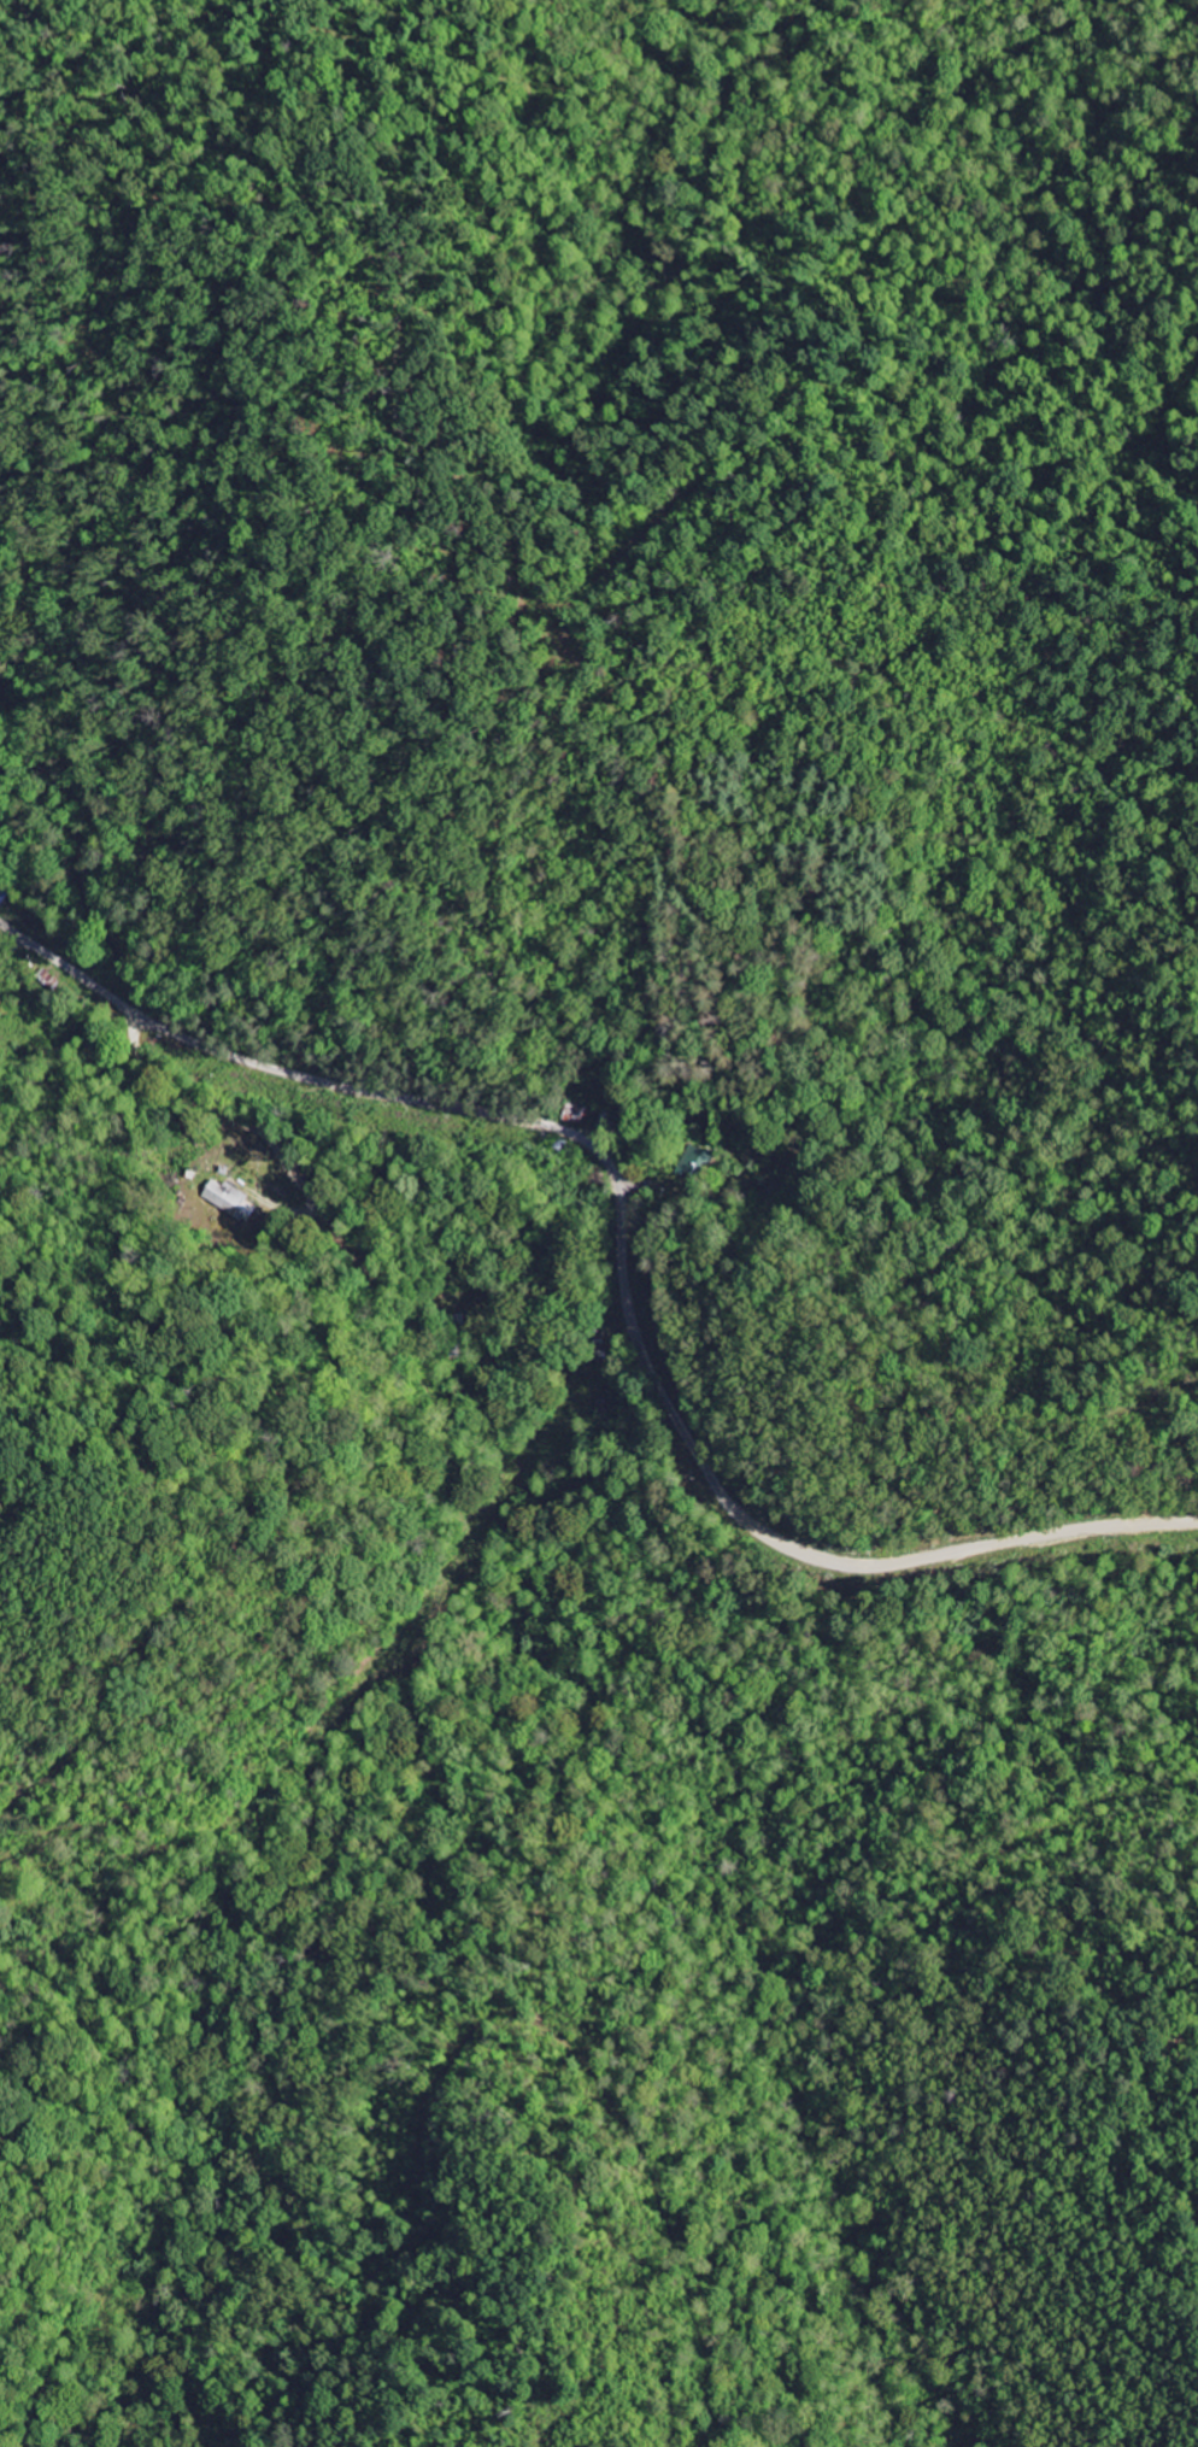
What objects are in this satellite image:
building: (229, 1201)
road: (618, 1257)
road: (442, 1513)

